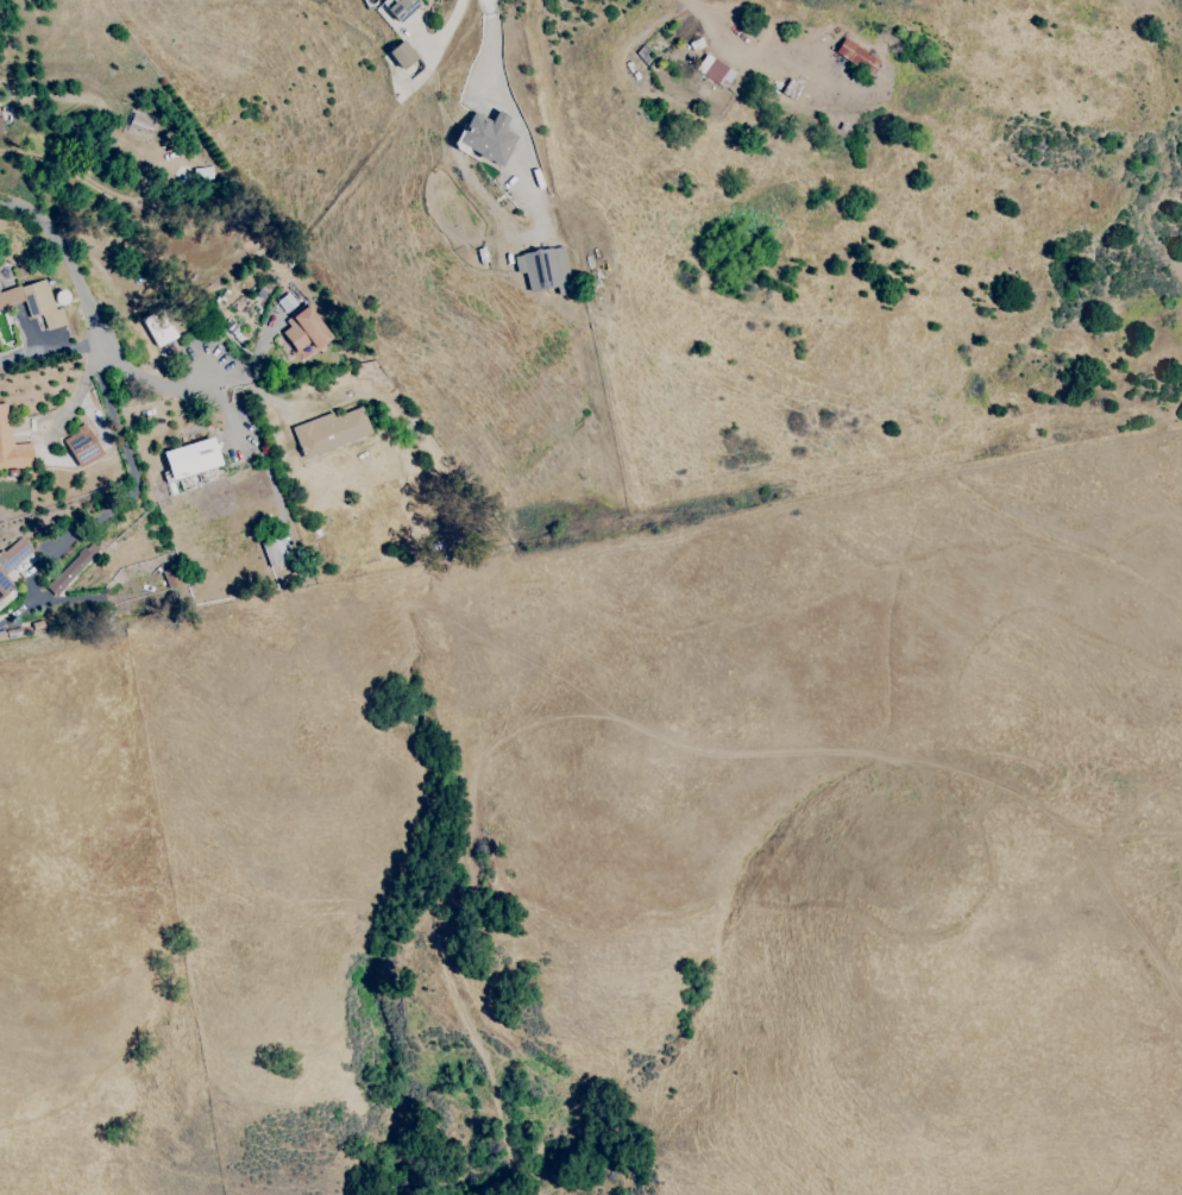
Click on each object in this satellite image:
road: (696, 6)
road: (713, 6)
building: (401, 8)
building: (401, 55)
road: (784, 56)
building: (856, 56)
building: (713, 71)
road: (508, 109)
building: (0, 126)
building: (485, 137)
building: (542, 269)
building: (285, 302)
building: (33, 303)
road: (98, 323)
building: (158, 328)
building: (303, 329)
building: (329, 432)
building: (12, 446)
building: (81, 447)
building: (190, 459)
road: (130, 492)
building: (274, 553)
building: (12, 560)
building: (71, 568)

